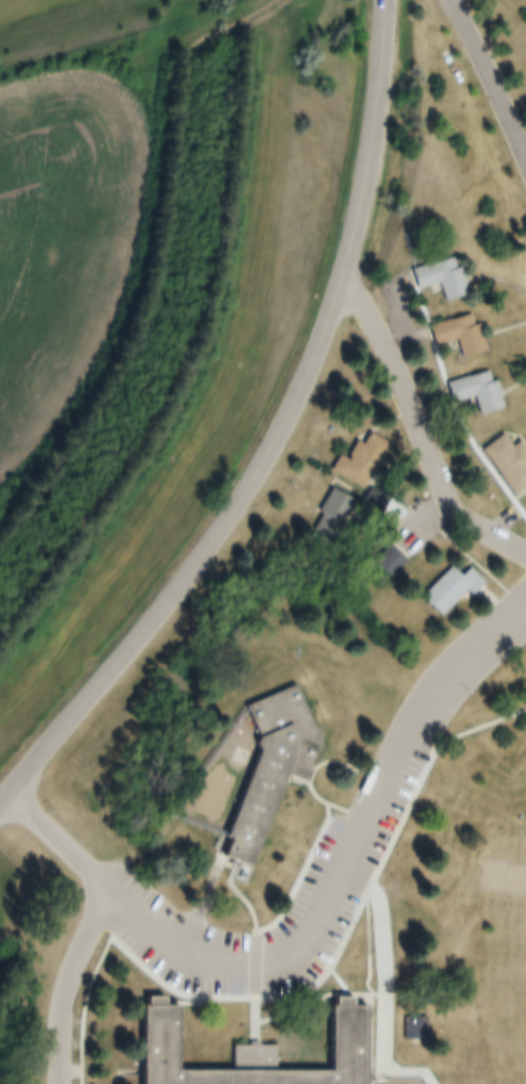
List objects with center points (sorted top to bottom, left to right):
road: (488, 80)
building: (434, 276)
building: (454, 334)
building: (472, 393)
road: (418, 434)
road: (274, 437)
building: (355, 462)
building: (506, 465)
building: (326, 517)
building: (385, 560)
building: (445, 589)
building: (263, 767)
road: (58, 843)
park: (503, 879)
road: (300, 944)
building: (412, 1029)
building: (241, 1052)
park: (497, 1060)

